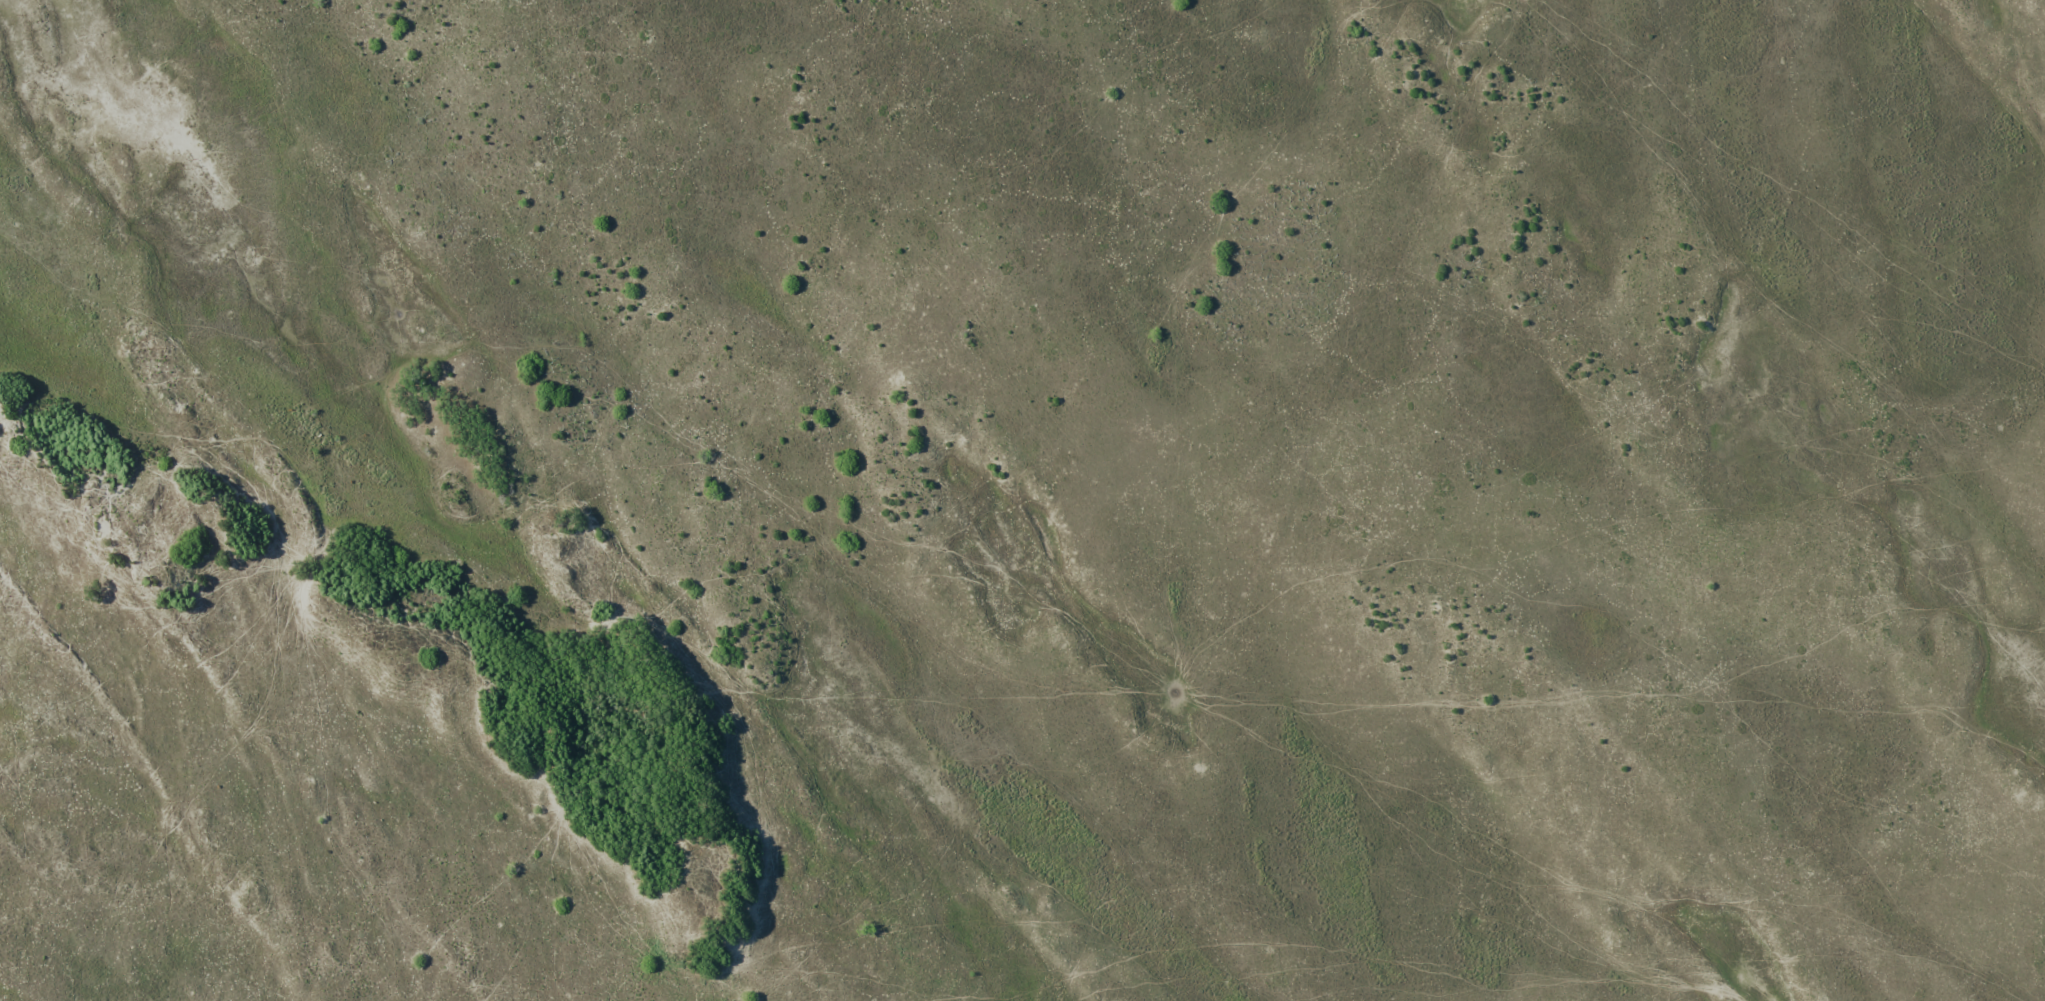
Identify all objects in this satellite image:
road: (2020, 35)

